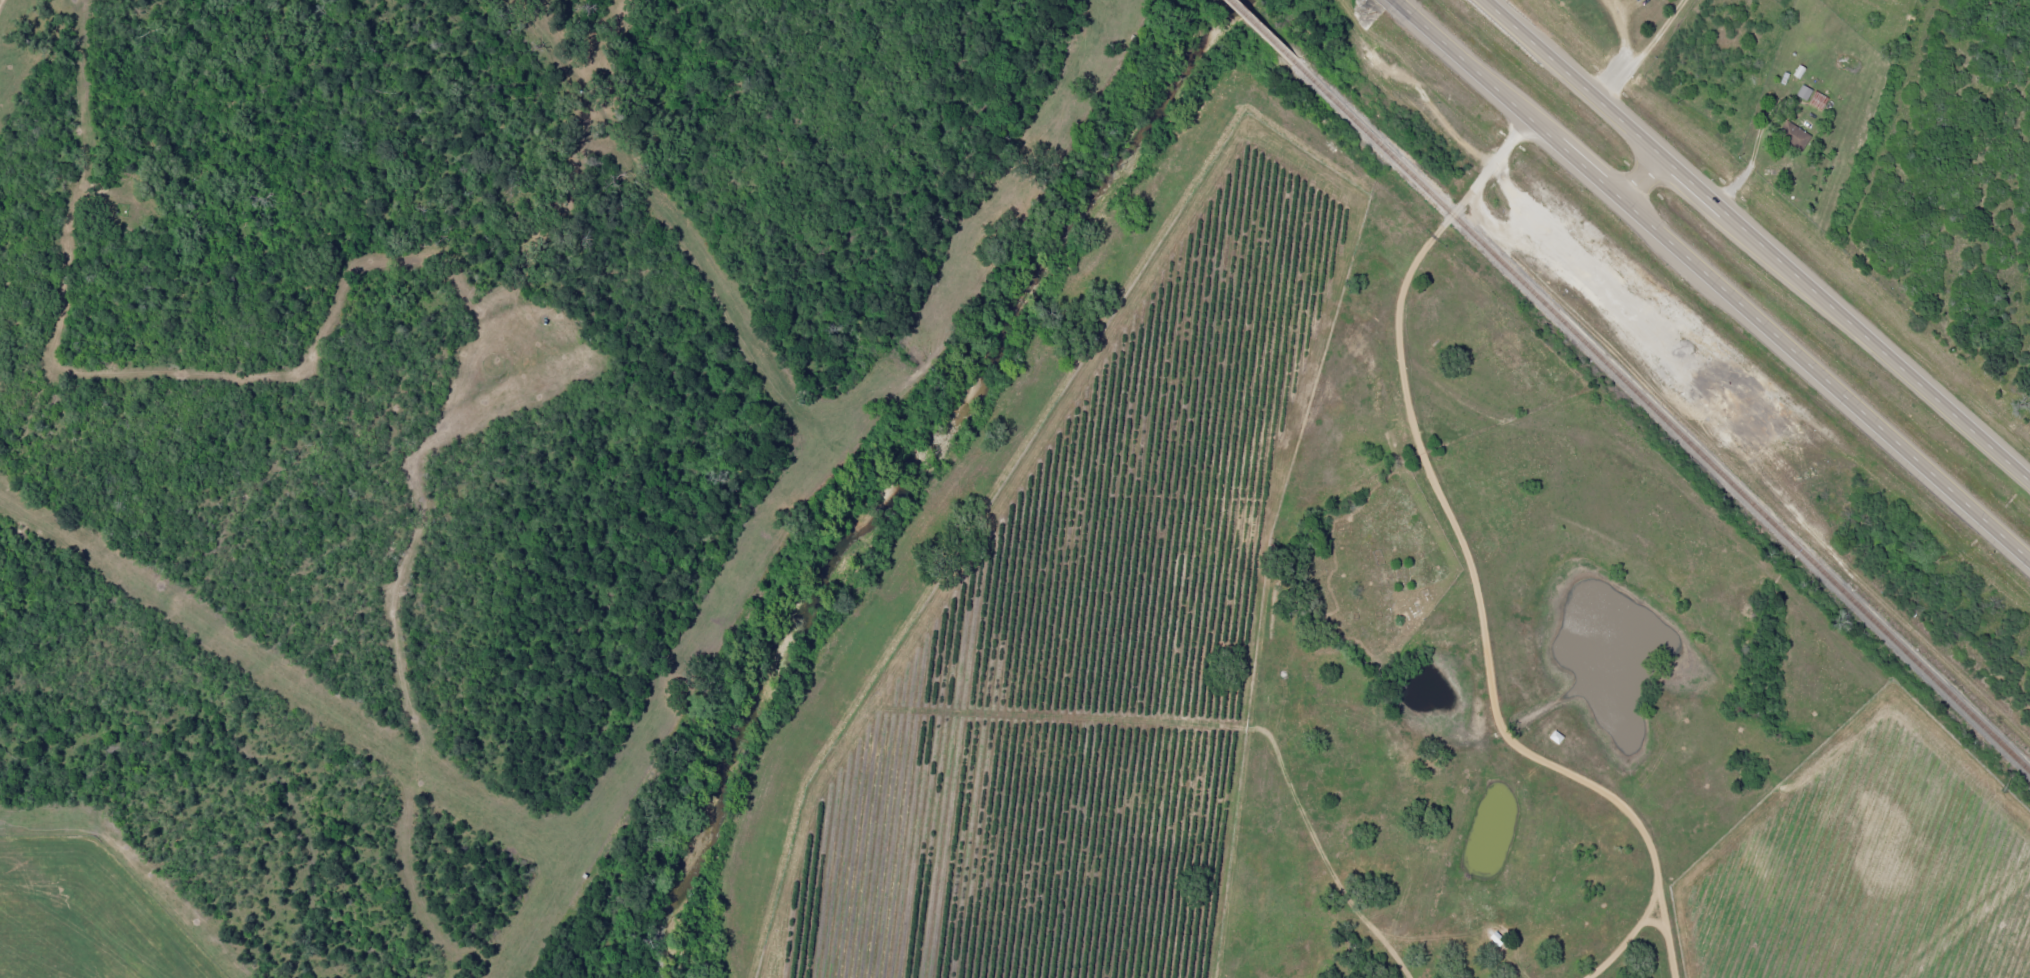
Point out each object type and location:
road: (1392, 2)
railway: (1257, 31)
road: (1632, 50)
building: (1803, 92)
building: (1793, 135)
road: (1640, 179)
road: (1757, 240)
road: (1711, 282)
road: (489, 296)
railway: (1660, 417)
road: (1459, 552)
park: (1380, 565)

